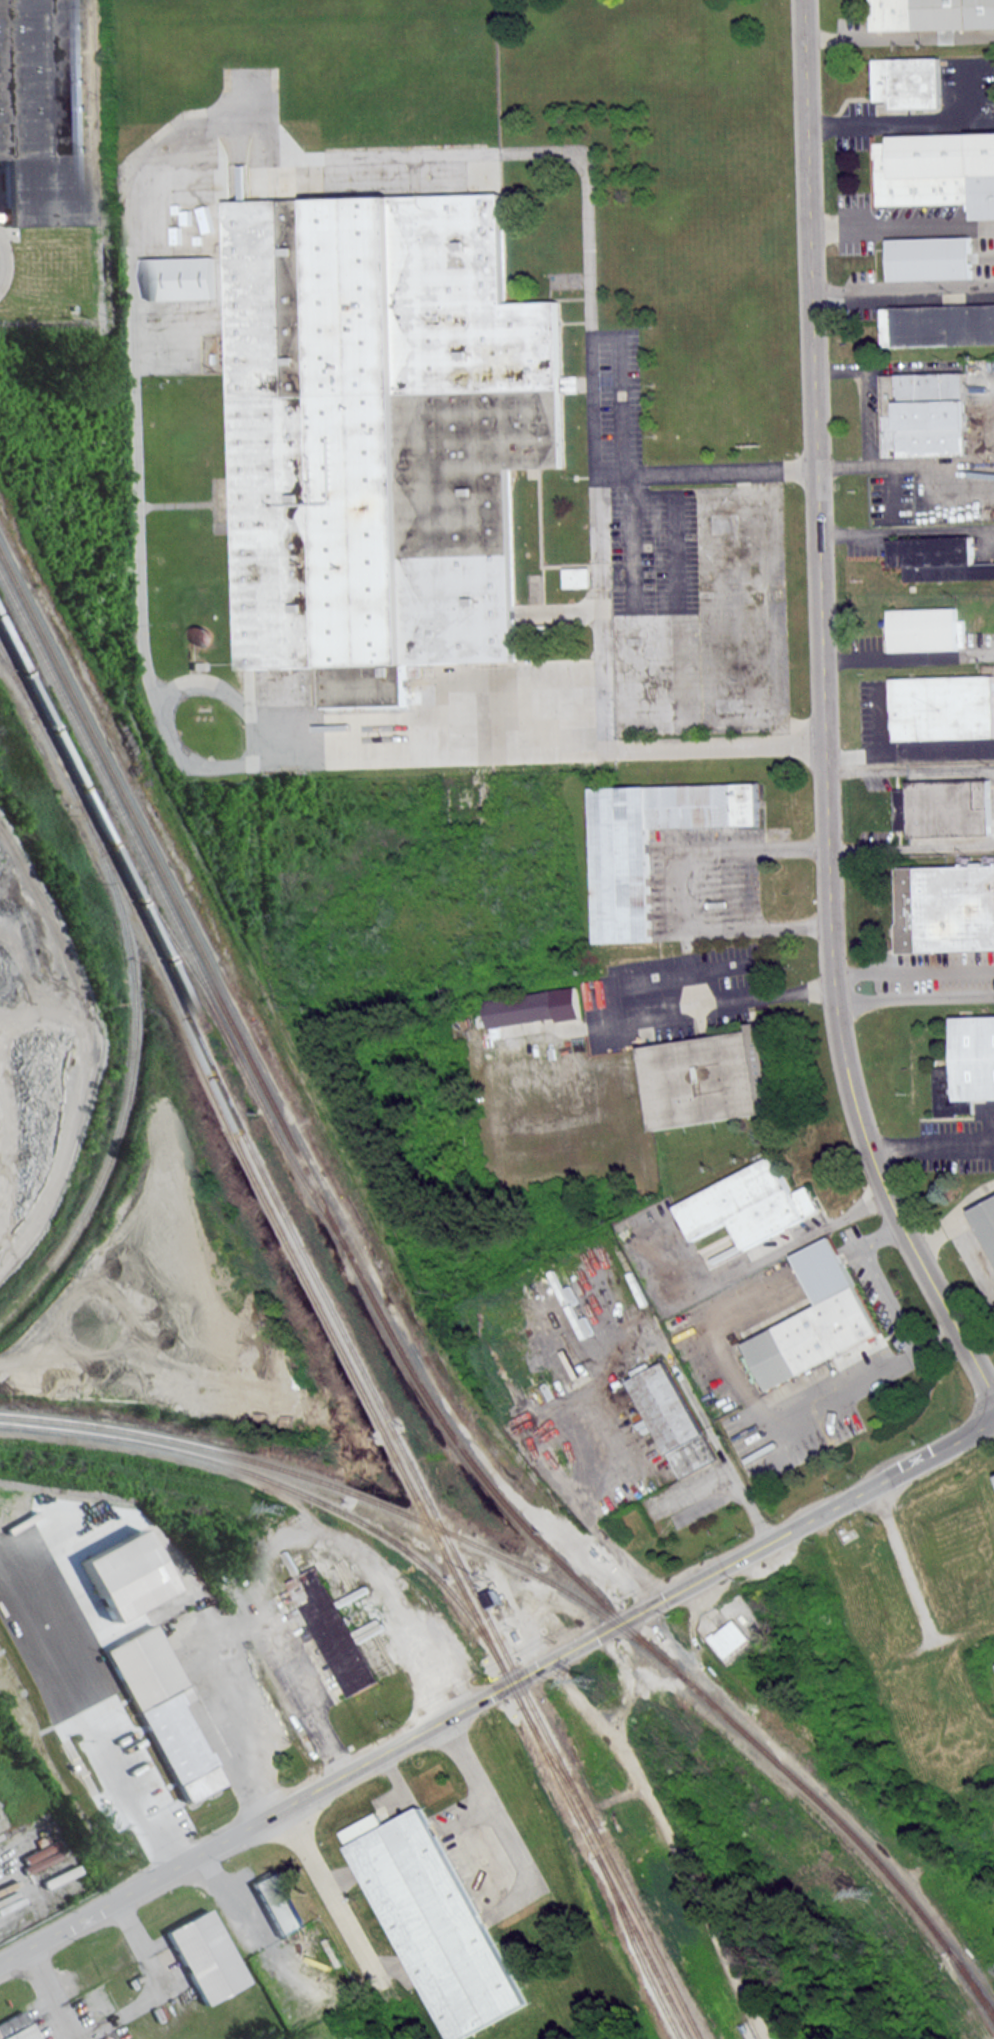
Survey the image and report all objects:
building: (932, 14)
building: (907, 82)
building: (40, 114)
road: (885, 121)
building: (936, 171)
road: (901, 226)
building: (931, 258)
road: (0, 261)
road: (128, 274)
road: (902, 289)
building: (937, 325)
road: (620, 390)
building: (925, 414)
building: (382, 433)
road: (674, 529)
road: (908, 531)
road: (632, 540)
building: (938, 559)
building: (926, 629)
road: (887, 658)
railway: (12, 679)
building: (943, 707)
road: (823, 714)
railway: (38, 725)
road: (877, 746)
building: (944, 807)
railway: (118, 815)
road: (674, 881)
building: (623, 885)
building: (945, 908)
railway: (167, 936)
road: (913, 971)
road: (987, 997)
road: (915, 999)
building: (534, 1007)
road: (637, 1016)
building: (975, 1057)
railway: (127, 1074)
building: (712, 1078)
railway: (273, 1099)
road: (930, 1144)
railway: (294, 1162)
building: (749, 1204)
building: (986, 1221)
road: (795, 1243)
railway: (346, 1336)
building: (811, 1336)
road: (663, 1342)
road: (858, 1386)
railway: (380, 1423)
railway: (219, 1449)
railway: (284, 1483)
railway: (66, 1491)
power tower: (285, 1505)
road: (362, 1558)
railway: (564, 1588)
building: (495, 1596)
road: (225, 1632)
power tower: (590, 1679)
road: (630, 1679)
road: (496, 1689)
railway: (789, 1773)
road: (132, 1788)
road: (672, 1841)
power tower: (865, 1891)
road: (335, 1904)
building: (434, 1920)
railway: (636, 1947)
railway: (975, 1984)
railway: (975, 1987)
building: (16, 2027)

